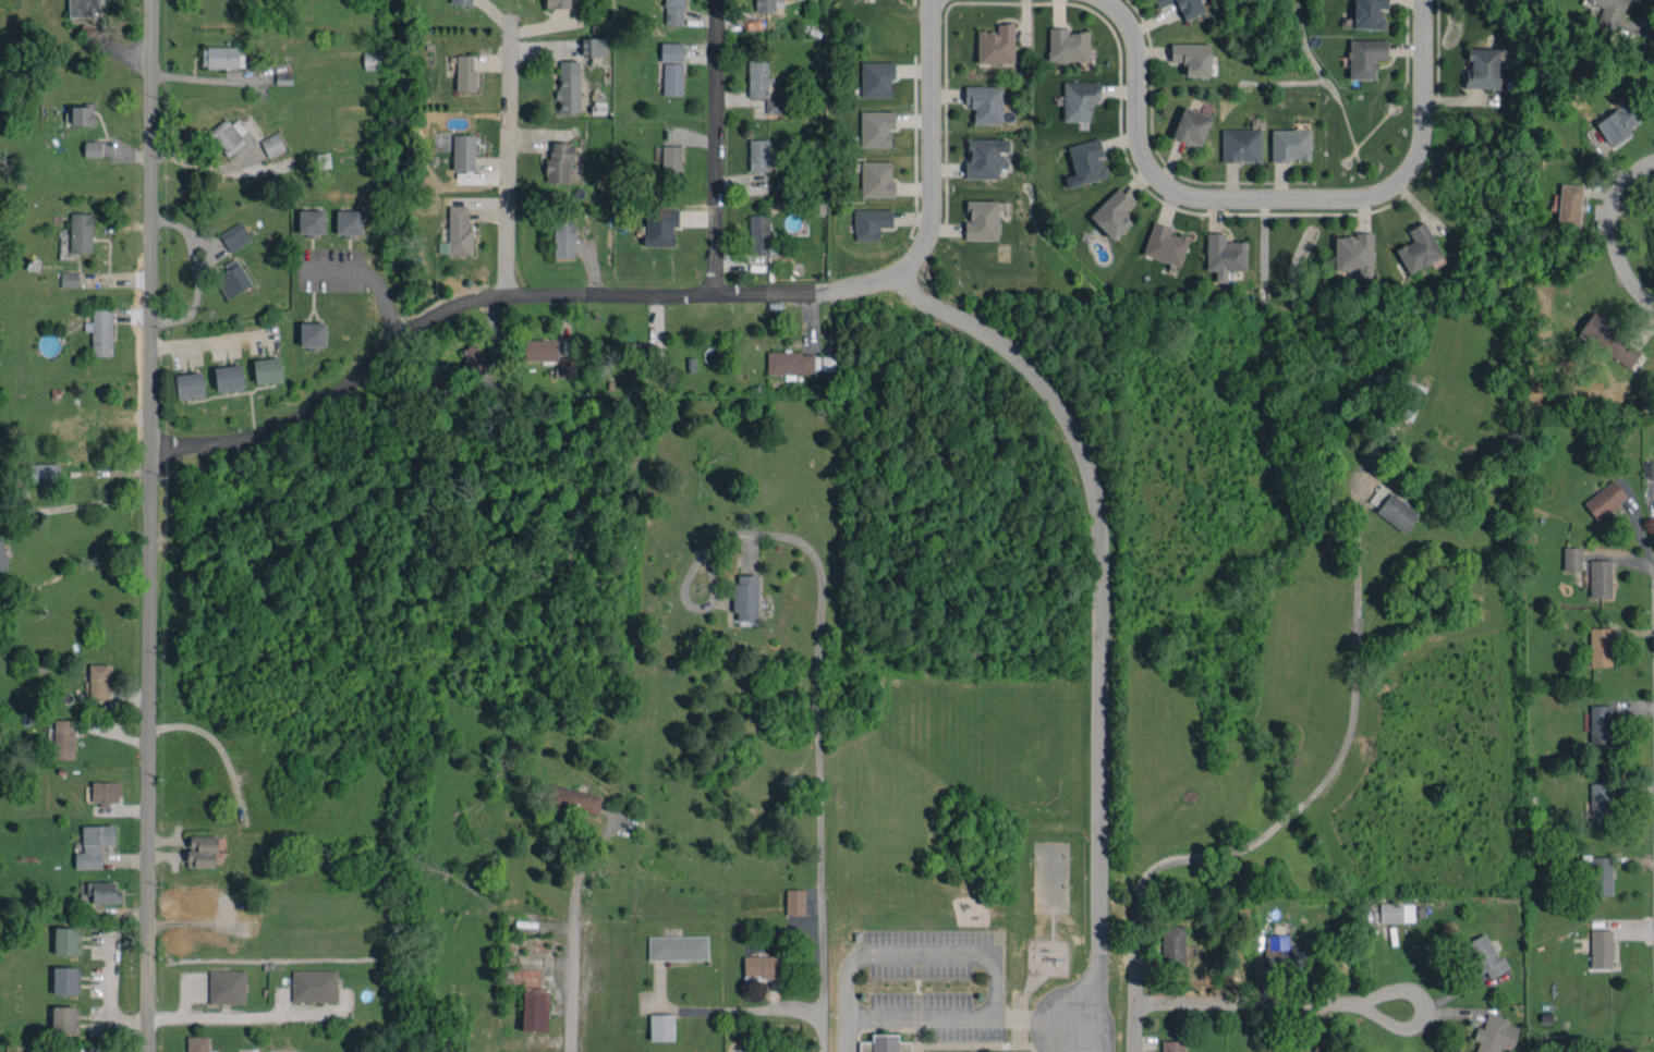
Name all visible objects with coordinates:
building: (462, 1)
building: (558, 3)
building: (765, 5)
building: (1183, 7)
building: (82, 8)
building: (1608, 11)
building: (674, 12)
building: (1369, 13)
building: (996, 45)
building: (1068, 45)
building: (594, 47)
building: (671, 51)
building: (220, 57)
building: (1192, 57)
building: (1365, 58)
building: (373, 59)
building: (1483, 68)
building: (465, 73)
building: (757, 76)
building: (672, 78)
building: (876, 78)
building: (569, 86)
building: (1079, 99)
building: (984, 102)
building: (774, 106)
building: (82, 114)
building: (1618, 123)
building: (1191, 126)
building: (876, 129)
building: (228, 134)
building: (272, 144)
building: (1290, 144)
building: (1241, 145)
road: (719, 147)
building: (93, 148)
building: (463, 151)
building: (758, 155)
building: (984, 157)
building: (671, 159)
road: (926, 159)
road: (509, 160)
building: (559, 161)
building: (1086, 162)
building: (877, 179)
road: (1268, 200)
building: (1568, 204)
building: (1112, 213)
building: (982, 220)
building: (312, 222)
building: (349, 222)
building: (871, 222)
building: (660, 225)
road: (1617, 231)
building: (81, 232)
building: (458, 232)
building: (563, 234)
building: (758, 234)
building: (234, 236)
building: (1165, 244)
building: (1419, 248)
building: (1354, 254)
building: (1224, 255)
road: (195, 270)
building: (70, 279)
building: (232, 279)
road: (370, 281)
road: (636, 296)
building: (100, 330)
building: (313, 333)
road: (208, 339)
building: (1610, 340)
building: (639, 353)
building: (549, 356)
building: (474, 363)
building: (790, 363)
building: (267, 369)
building: (229, 377)
building: (190, 384)
building: (1409, 397)
building: (1647, 469)
building: (44, 472)
building: (1605, 499)
road: (75, 505)
building: (1392, 507)
road: (151, 525)
building: (3, 558)
building: (1572, 559)
building: (1601, 578)
building: (745, 598)
building: (1601, 647)
road: (818, 651)
building: (99, 682)
road: (1094, 709)
building: (1601, 724)
building: (63, 738)
park: (1013, 739)
road: (1319, 782)
building: (105, 792)
building: (574, 799)
building: (1600, 800)
building: (94, 845)
building: (202, 851)
building: (1601, 876)
park: (1049, 877)
building: (104, 892)
building: (205, 898)
building: (794, 902)
building: (1397, 913)
building: (66, 940)
building: (1172, 945)
building: (678, 947)
building: (1602, 949)
road: (925, 953)
building: (1282, 953)
building: (1486, 956)
building: (761, 967)
building: (65, 980)
road: (571, 981)
building: (314, 984)
building: (227, 987)
road: (107, 999)
road: (1094, 1000)
road: (1046, 1004)
road: (1135, 1006)
road: (1243, 1006)
road: (737, 1008)
building: (535, 1010)
road: (256, 1014)
road: (920, 1016)
building: (64, 1019)
building: (661, 1027)
road: (1394, 1028)
road: (822, 1030)
road: (844, 1033)
building: (1495, 1035)
building: (198, 1043)
building: (884, 1043)
building: (1172, 1045)
building: (1287, 1045)
building: (96, 1048)

